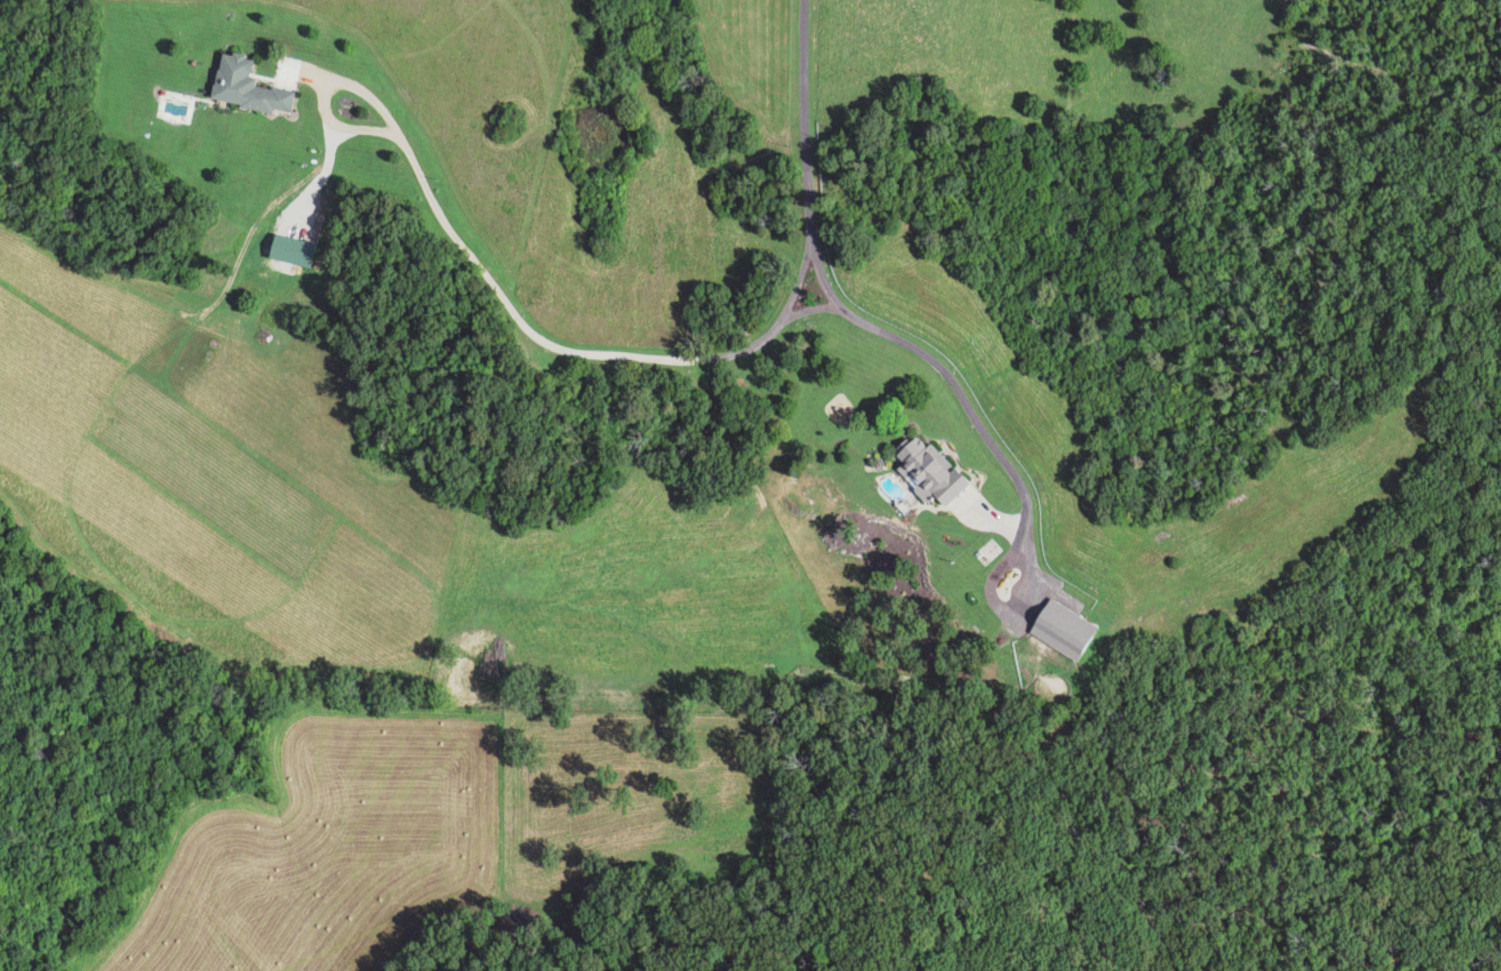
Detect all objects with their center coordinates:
building: (241, 88)
road: (327, 95)
road: (701, 357)
road: (947, 376)
building: (924, 472)
building: (1058, 631)

